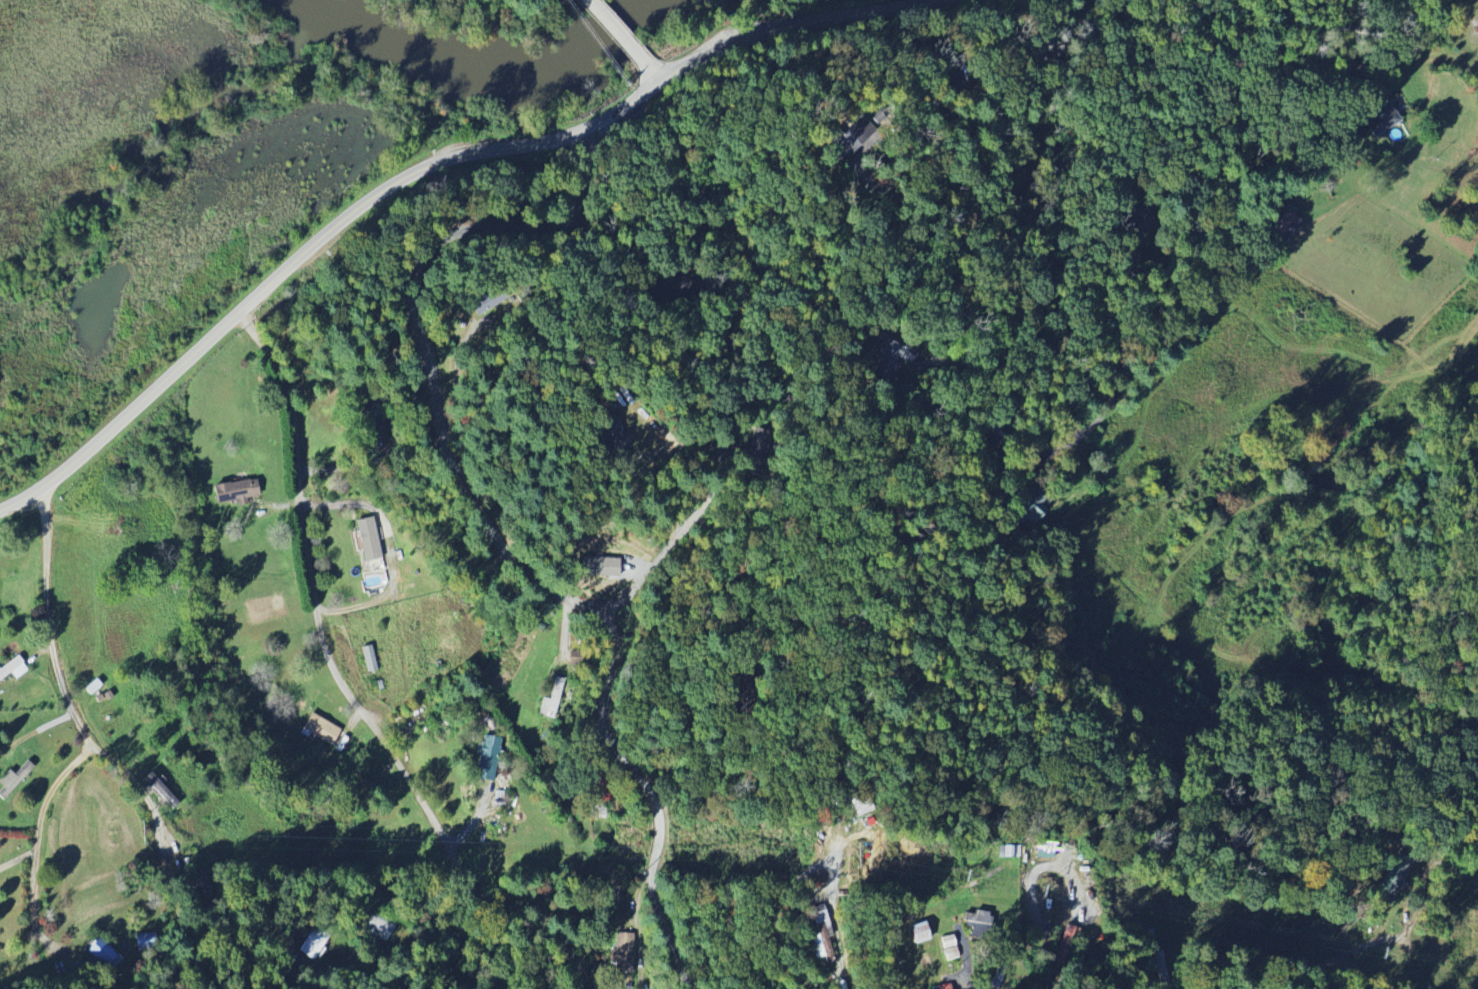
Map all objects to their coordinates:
river: (329, 4)
road: (797, 22)
road: (620, 34)
road: (1304, 43)
river: (402, 46)
river: (563, 52)
road: (1430, 56)
road: (658, 74)
building: (1380, 118)
road: (472, 128)
park: (443, 136)
road: (470, 140)
parking lot: (475, 140)
road: (997, 158)
road: (1050, 180)
road: (695, 183)
road: (1035, 205)
road: (306, 250)
road: (1176, 326)
building: (885, 365)
building: (615, 443)
building: (232, 491)
road: (707, 501)
building: (1032, 513)
road: (491, 534)
building: (367, 544)
building: (598, 567)
road: (313, 589)
building: (367, 658)
building: (12, 668)
building: (555, 691)
building: (317, 728)
building: (485, 751)
building: (13, 779)
road: (138, 788)
road: (38, 825)
building: (1041, 850)
road: (806, 870)
building: (1393, 877)
building: (971, 918)
building: (911, 932)
building: (145, 940)
building: (311, 945)
building: (1064, 945)
building: (943, 947)
building: (621, 952)
road: (1346, 965)
building: (998, 968)
road: (1422, 977)
building: (937, 986)
road: (1038, 986)

